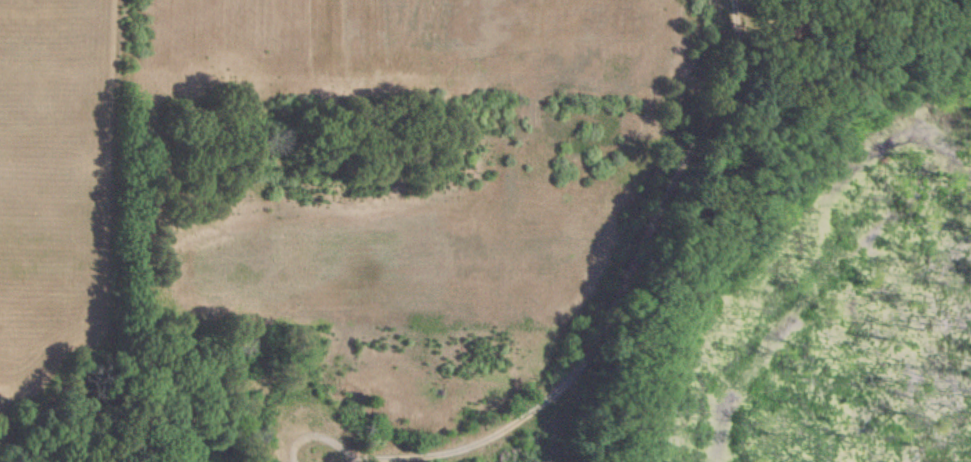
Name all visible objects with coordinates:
road: (614, 295)
road: (325, 439)

